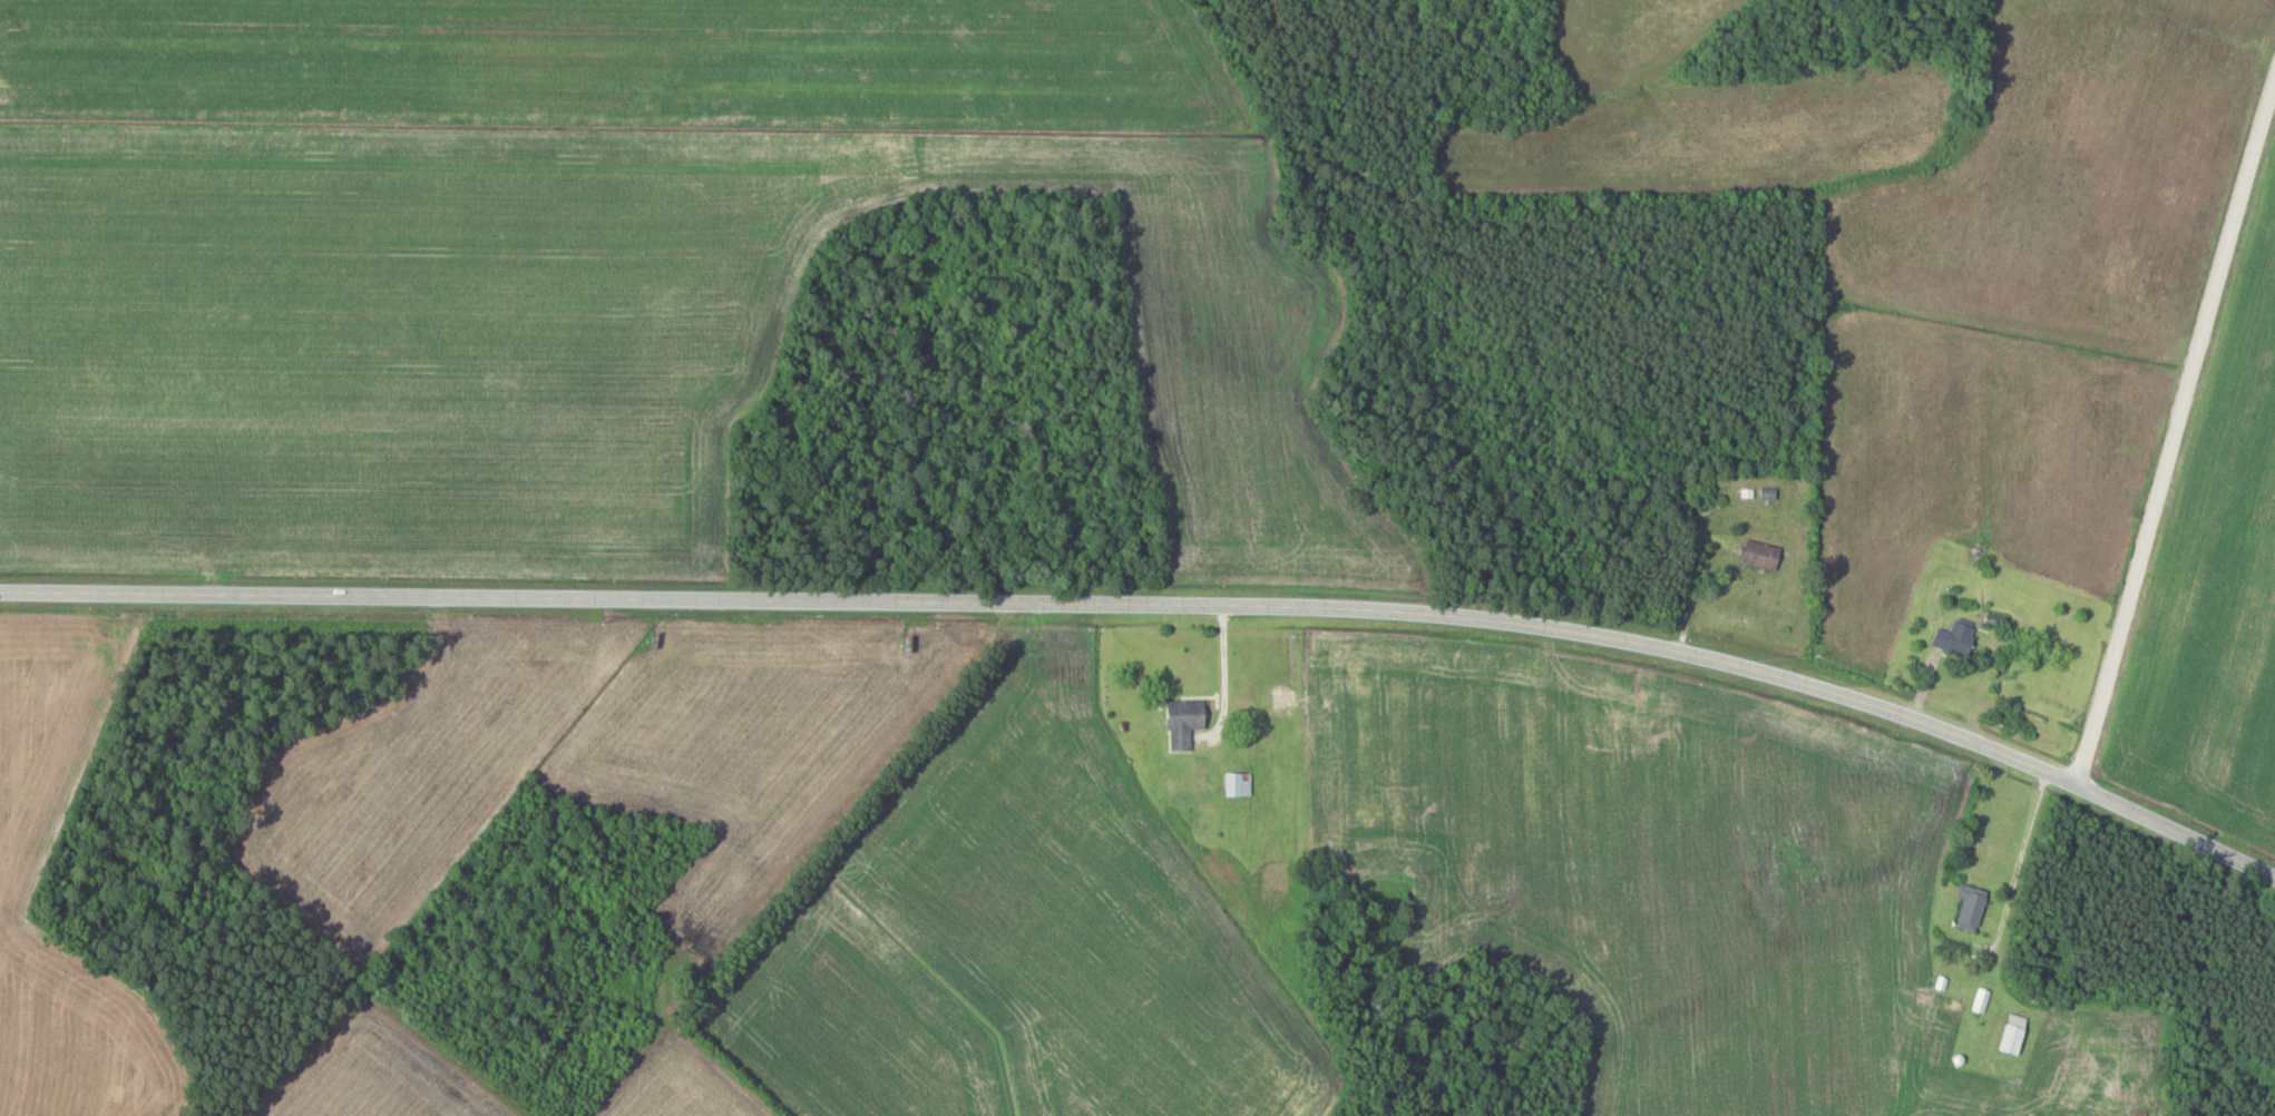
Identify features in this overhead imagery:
road: (2173, 429)
road: (1160, 601)

